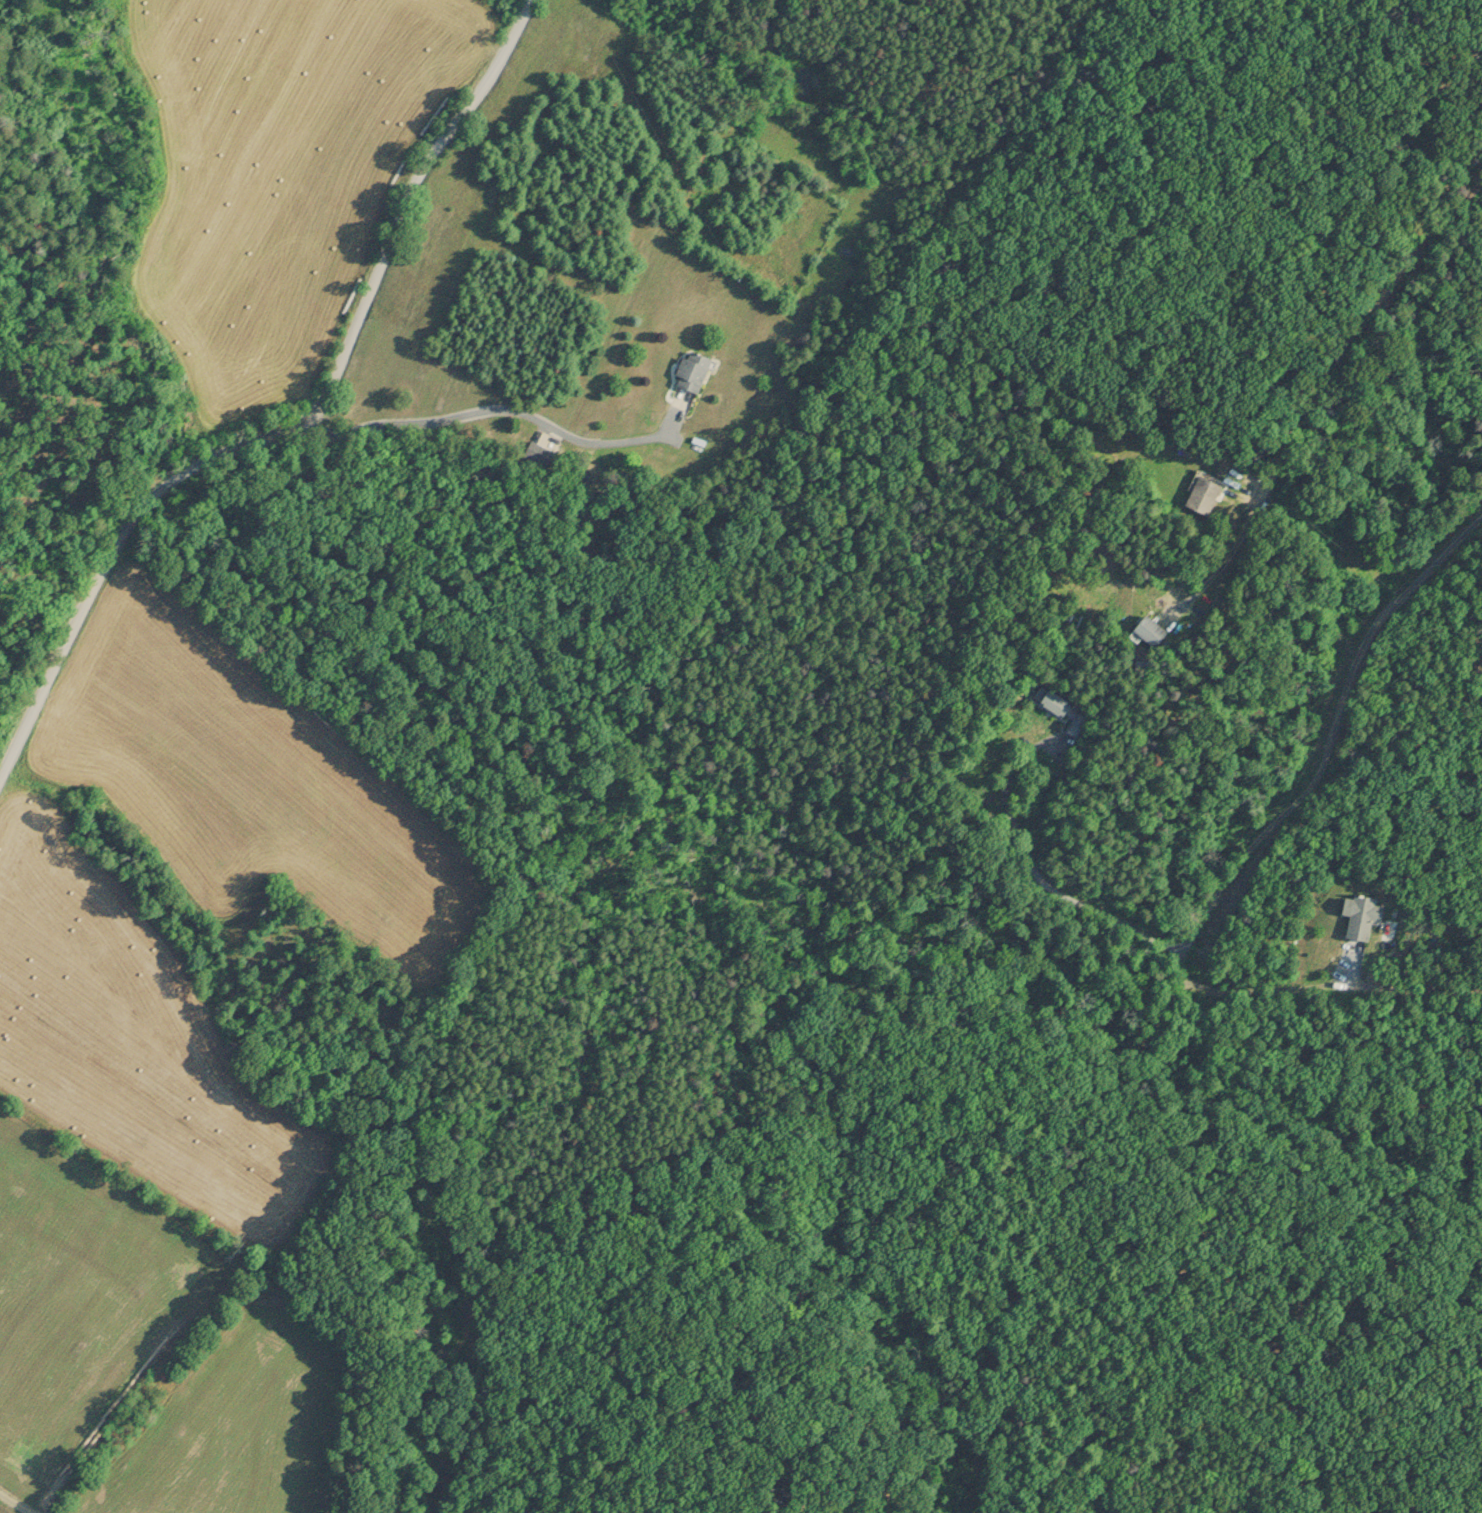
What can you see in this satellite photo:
road: (1349, 343)
building: (695, 367)
road: (497, 406)
road: (296, 423)
building: (1205, 490)
building: (1159, 628)
building: (1067, 708)
road: (1265, 826)
building: (1365, 912)
road: (1234, 998)

